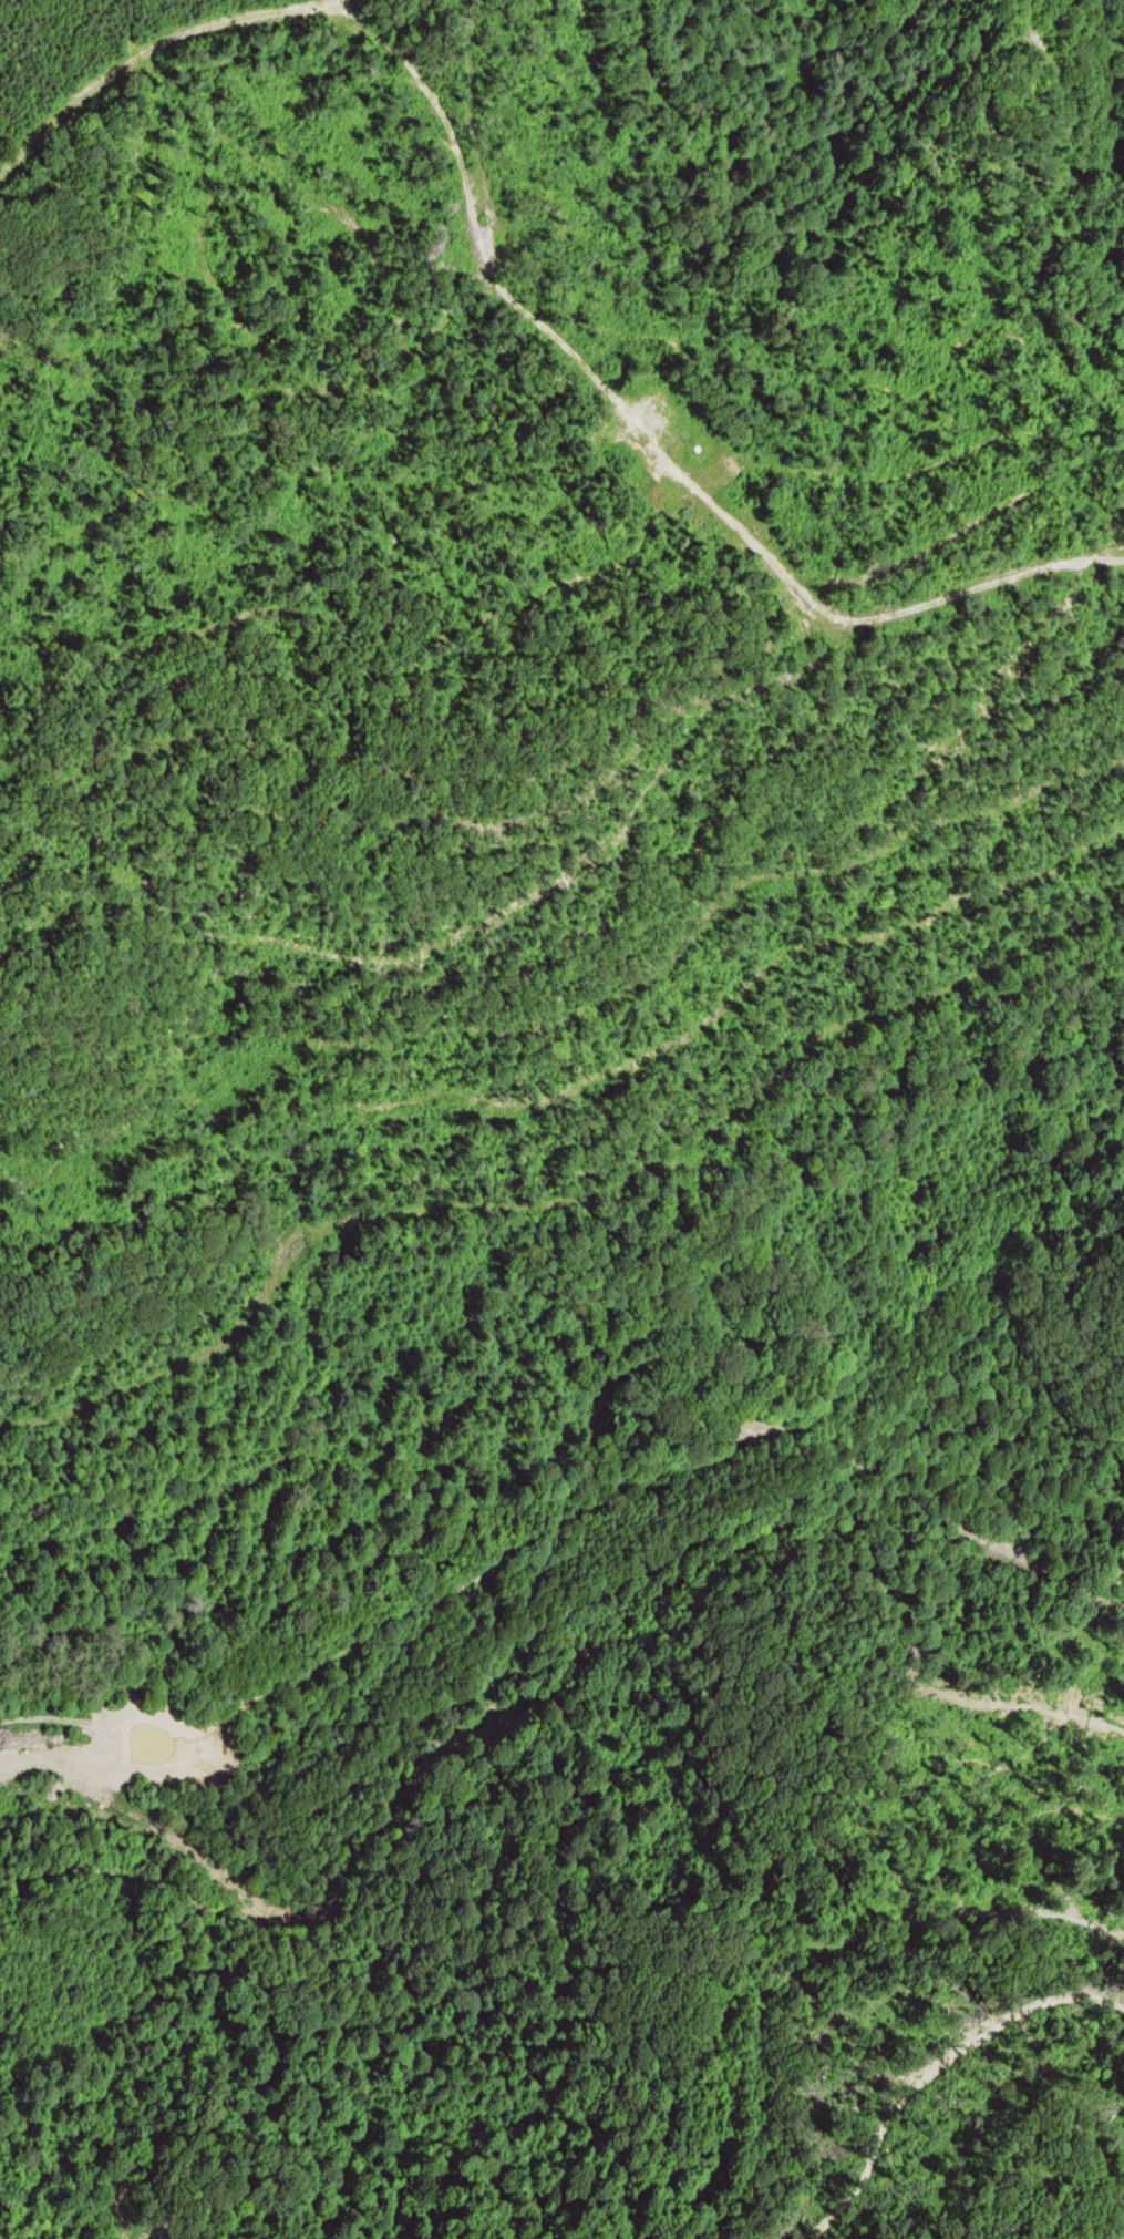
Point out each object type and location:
road: (61, 1718)

